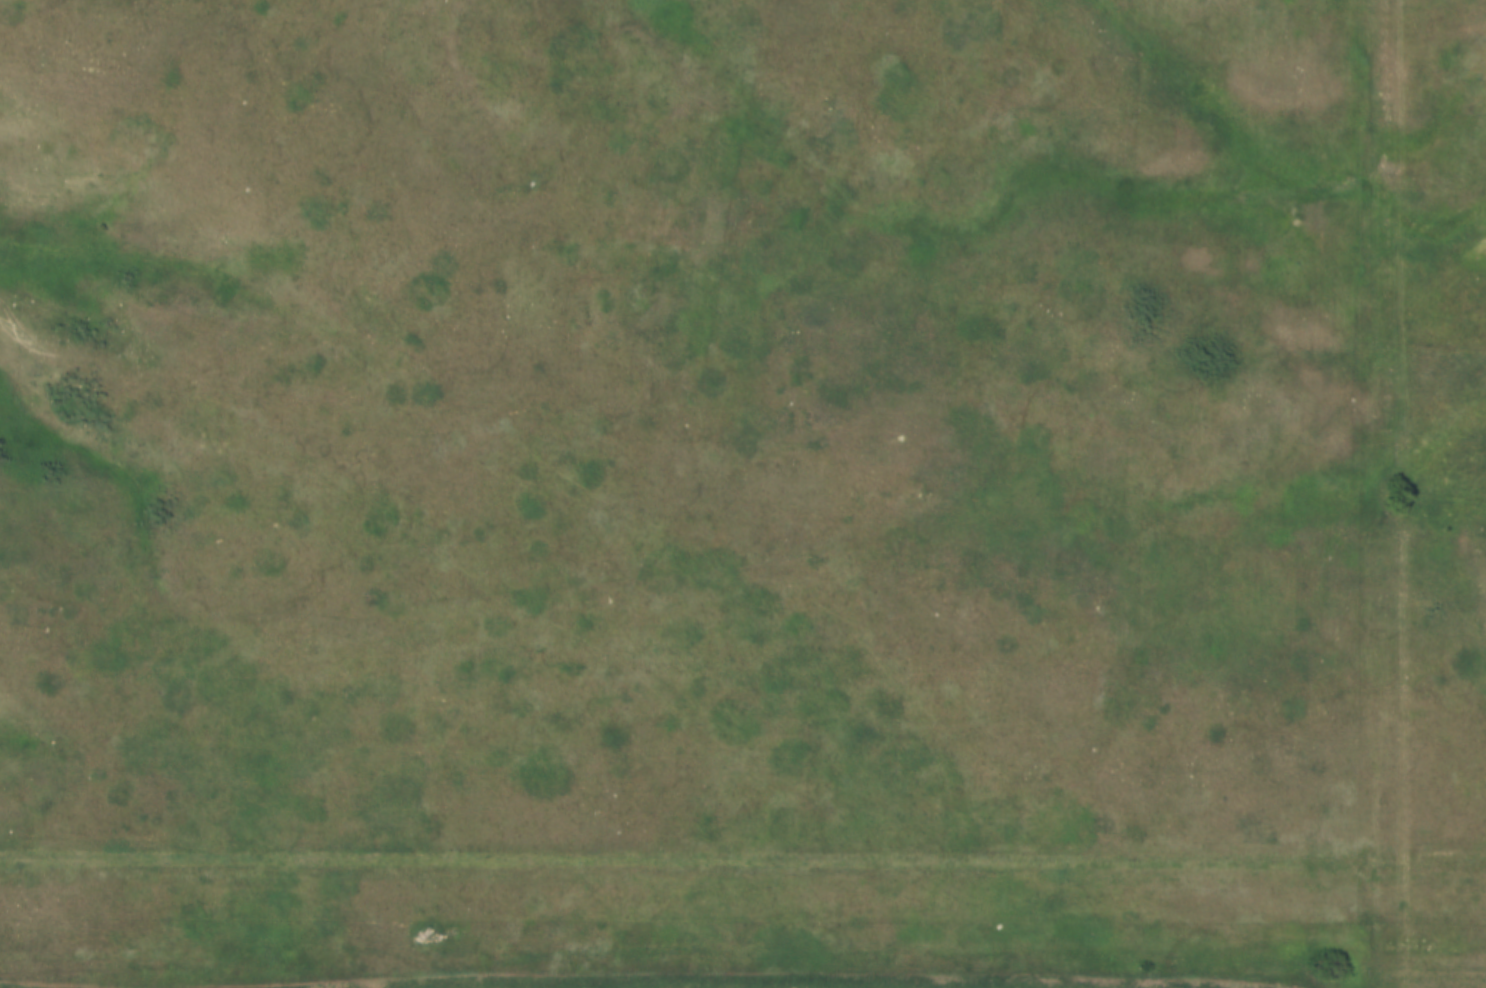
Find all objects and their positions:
road: (743, 970)

